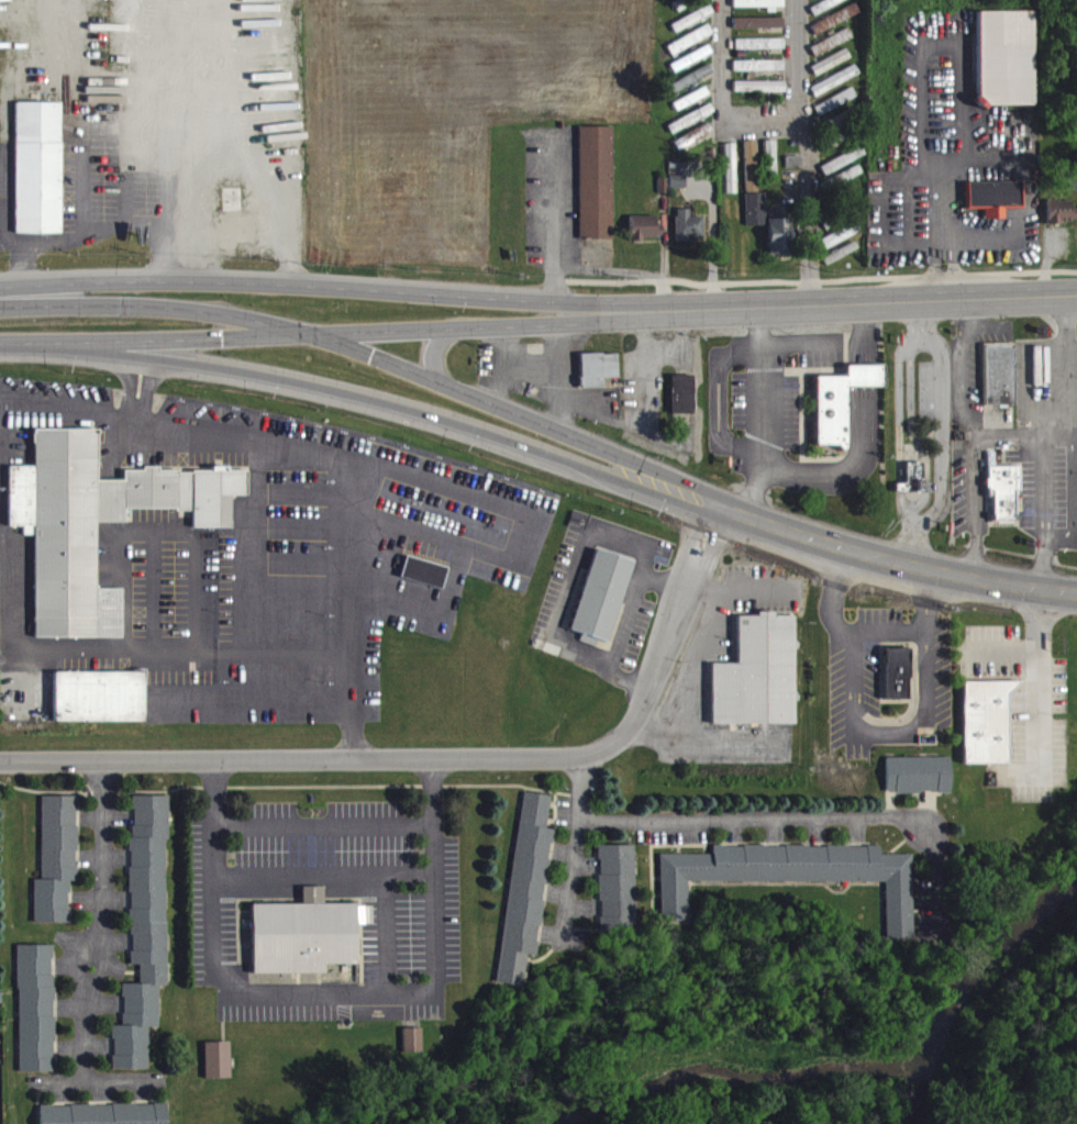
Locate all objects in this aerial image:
building: (756, 0)
building: (758, 11)
building: (832, 11)
building: (693, 27)
building: (759, 32)
road: (964, 45)
building: (691, 48)
building: (832, 51)
building: (760, 53)
road: (798, 62)
building: (692, 67)
building: (1007, 67)
building: (832, 70)
building: (759, 75)
building: (691, 88)
building: (835, 89)
road: (722, 94)
building: (760, 94)
building: (692, 108)
building: (836, 110)
building: (692, 127)
building: (833, 130)
building: (695, 145)
building: (841, 147)
road: (941, 160)
building: (771, 167)
building: (843, 169)
building: (795, 170)
building: (752, 175)
building: (40, 177)
building: (731, 177)
road: (82, 185)
building: (678, 190)
building: (597, 191)
building: (1070, 192)
road: (943, 200)
building: (995, 205)
road: (907, 210)
road: (808, 213)
road: (552, 216)
building: (756, 218)
building: (1062, 220)
building: (237, 226)
road: (96, 233)
building: (689, 235)
building: (646, 236)
building: (842, 244)
building: (780, 246)
road: (935, 269)
road: (951, 269)
road: (362, 290)
road: (900, 302)
road: (987, 329)
road: (388, 332)
traffic signals: (311, 334)
road: (801, 343)
road: (26, 350)
road: (433, 350)
road: (368, 357)
road: (1067, 366)
road: (963, 370)
building: (598, 378)
building: (1000, 383)
road: (129, 387)
road: (145, 390)
road: (719, 401)
building: (684, 403)
building: (841, 411)
road: (386, 414)
road: (762, 414)
road: (1058, 434)
road: (863, 436)
road: (1044, 478)
building: (917, 488)
road: (468, 494)
building: (1006, 500)
road: (1073, 500)
road: (976, 508)
building: (97, 532)
road: (891, 563)
road: (574, 572)
building: (424, 581)
building: (602, 604)
road: (624, 623)
road: (888, 634)
road: (116, 652)
road: (997, 652)
building: (752, 670)
building: (897, 682)
building: (99, 705)
road: (1037, 706)
building: (986, 731)
road: (867, 735)
road: (437, 760)
building: (918, 783)
road: (802, 816)
road: (573, 849)
building: (57, 868)
road: (320, 868)
building: (792, 883)
building: (526, 897)
building: (617, 897)
road: (100, 920)
building: (145, 941)
building: (303, 944)
building: (36, 1017)
building: (412, 1049)
building: (216, 1069)
building: (104, 1119)

